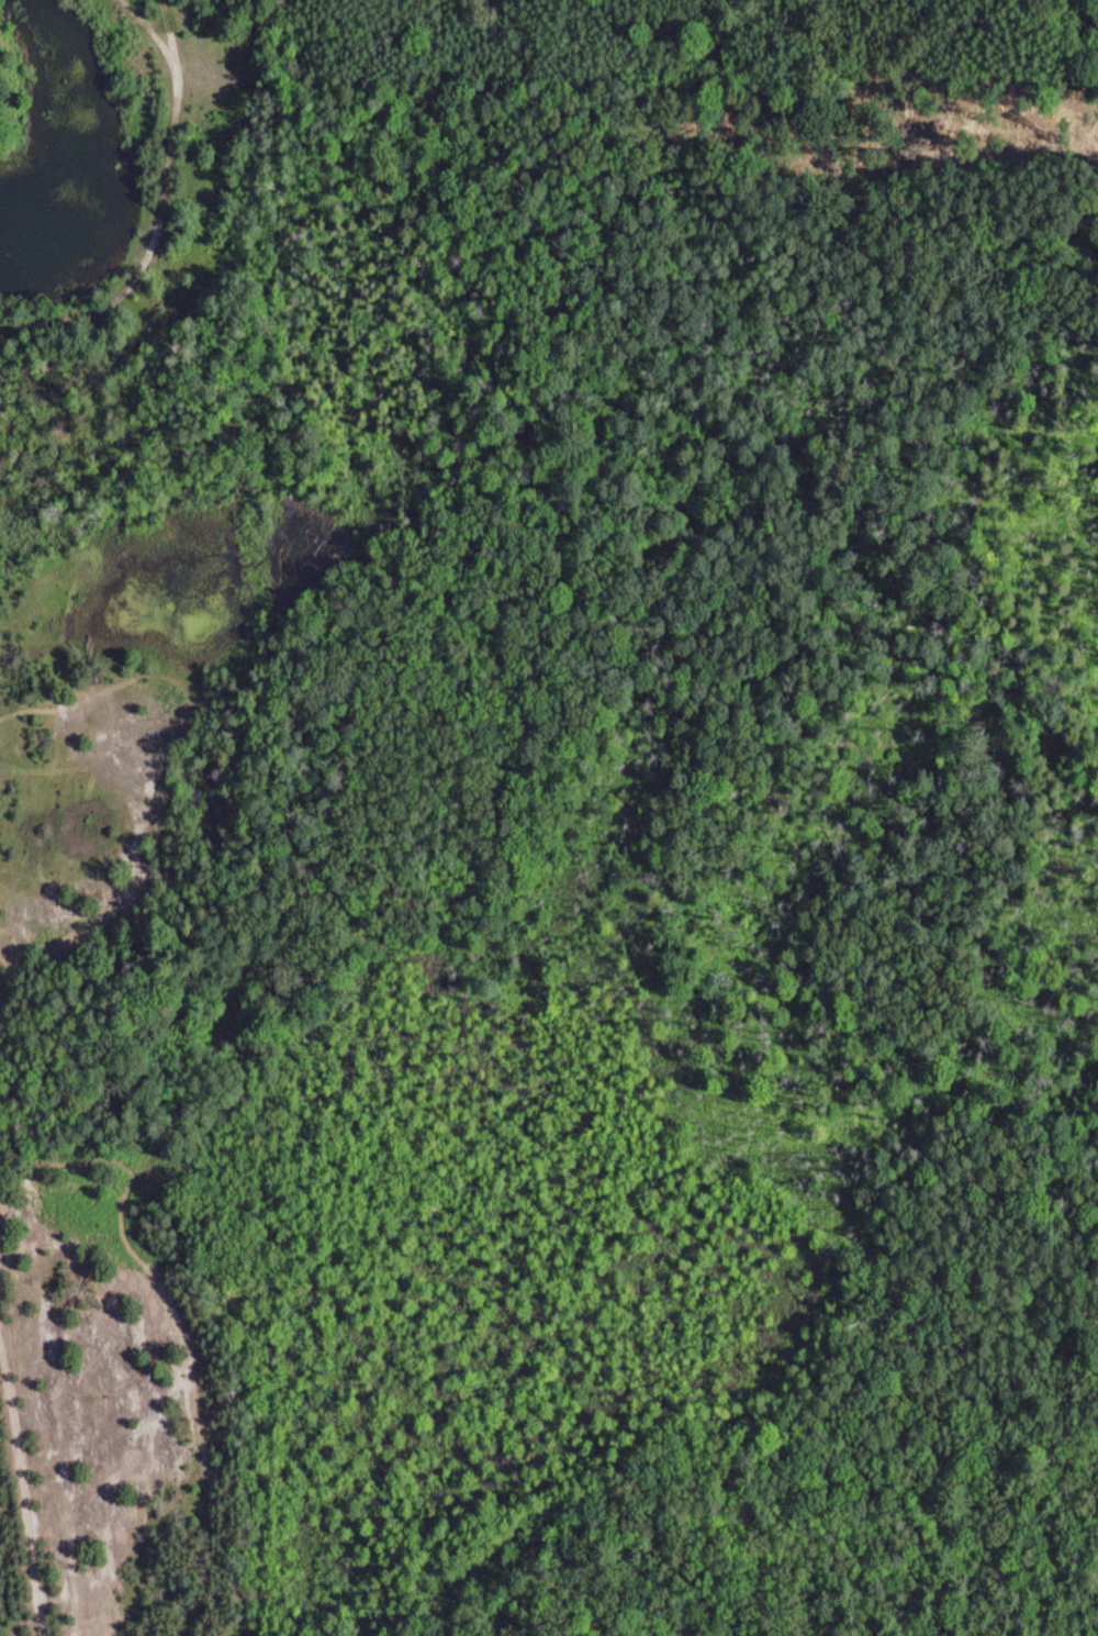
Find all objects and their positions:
road: (914, 131)
road: (262, 817)

